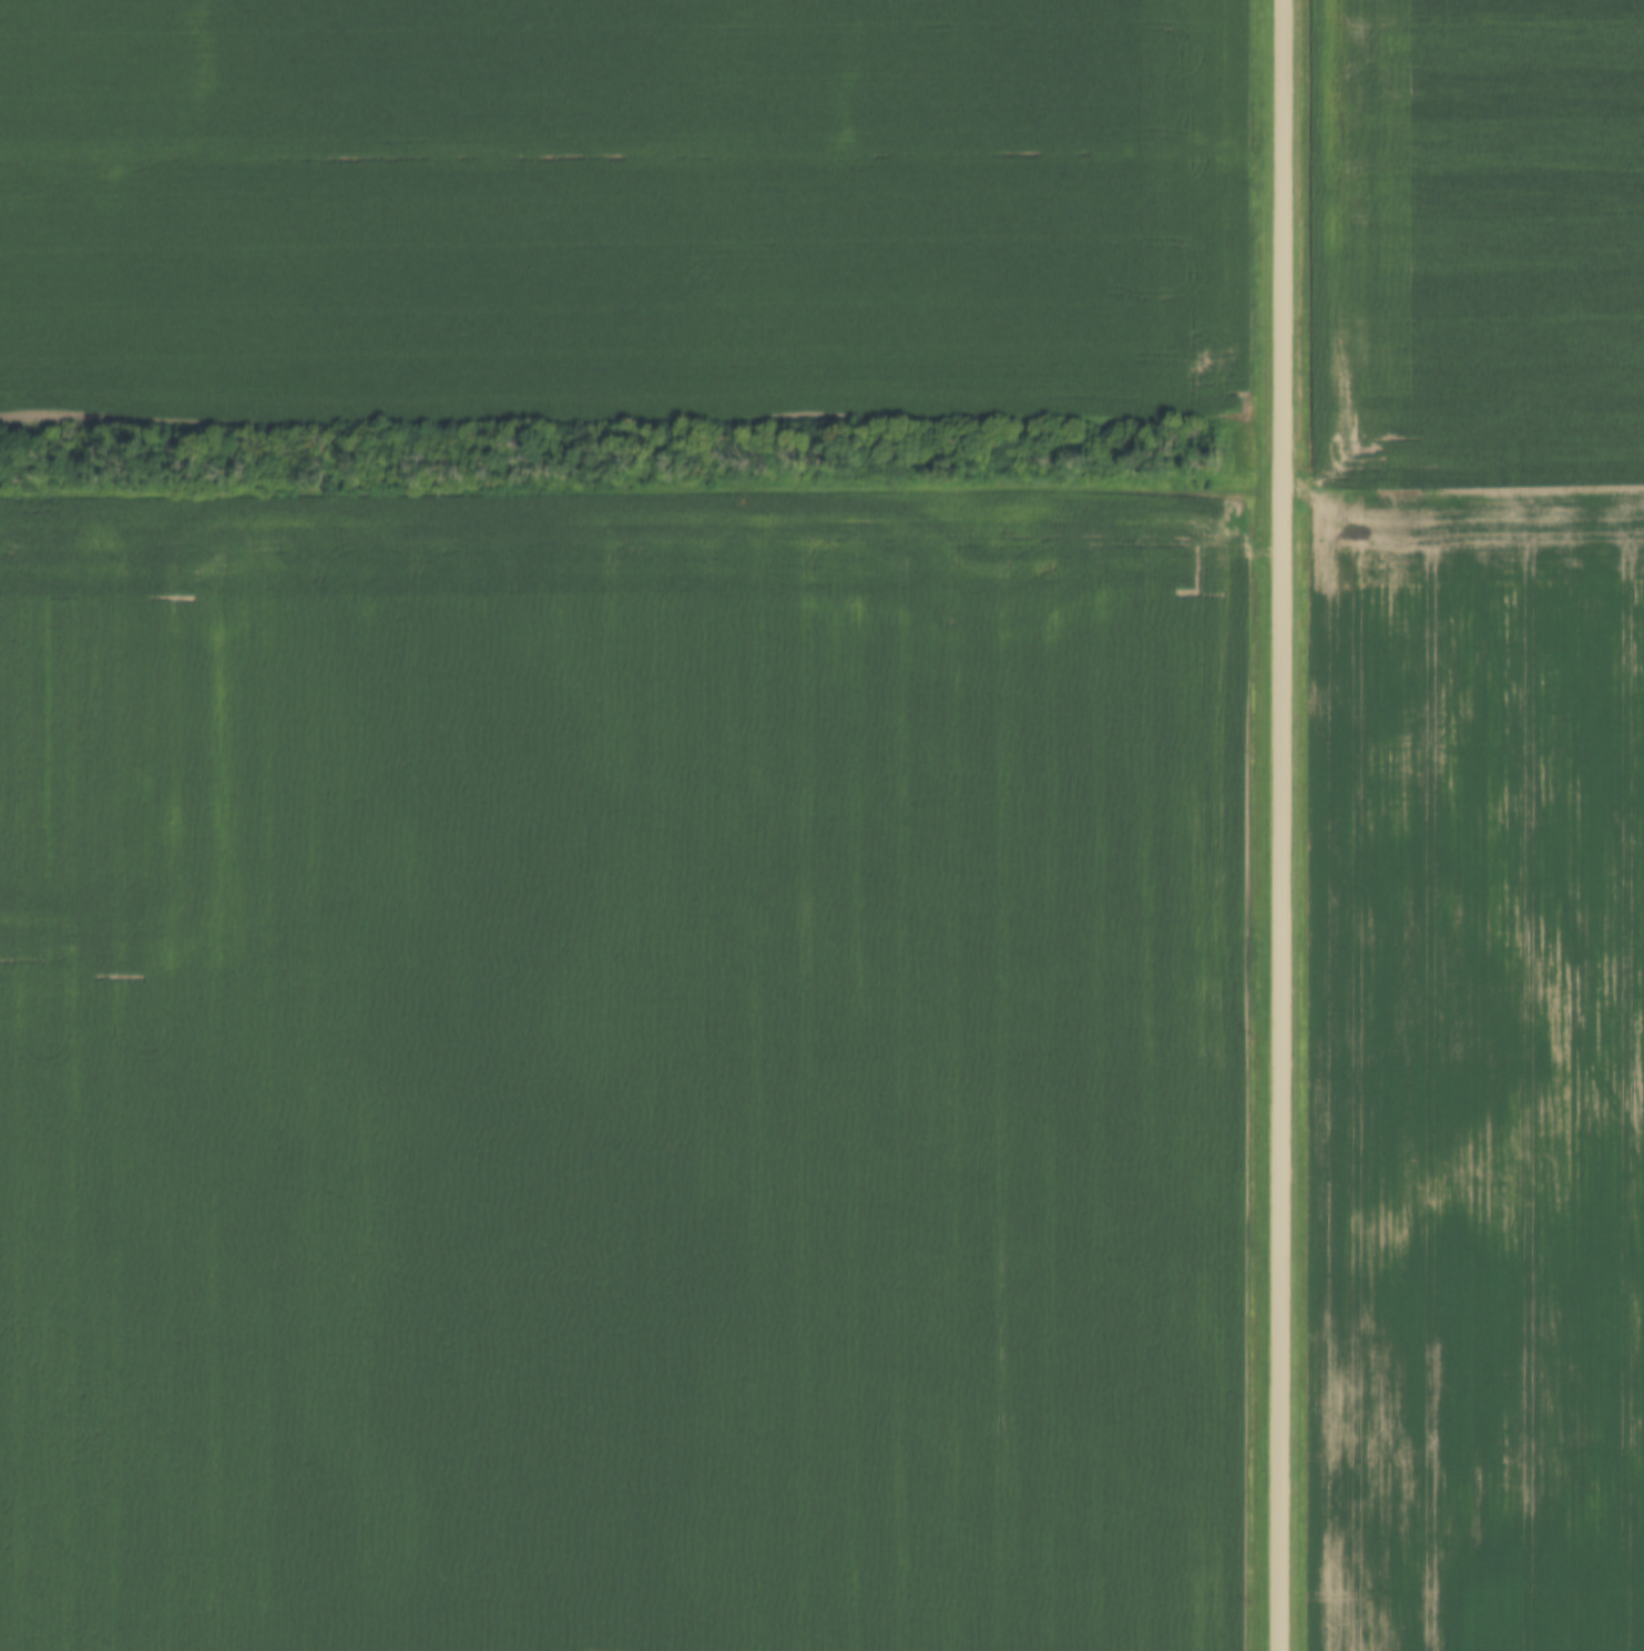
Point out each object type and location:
road: (1286, 825)

